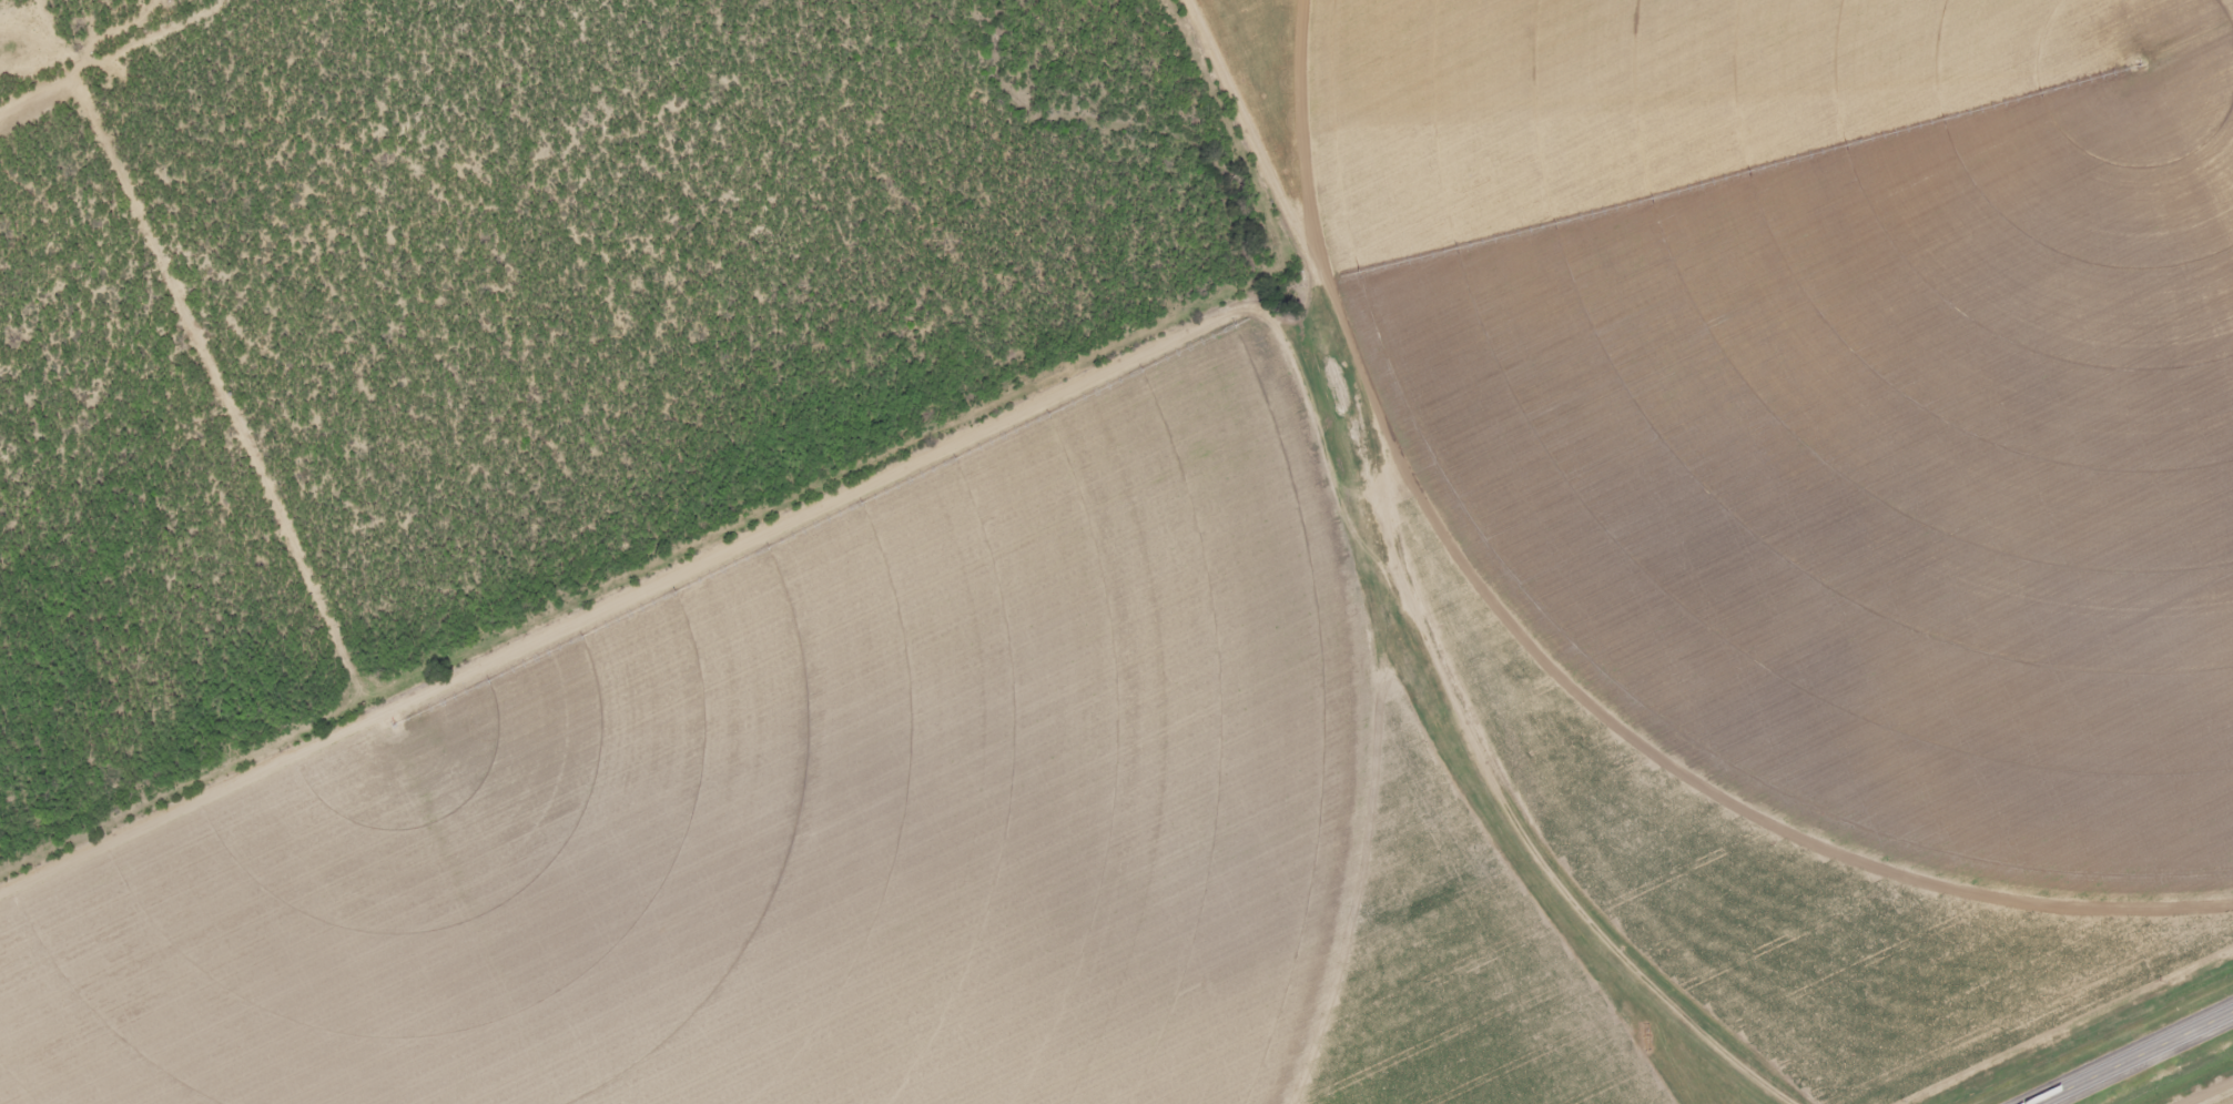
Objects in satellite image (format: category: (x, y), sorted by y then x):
road: (2135, 1059)

